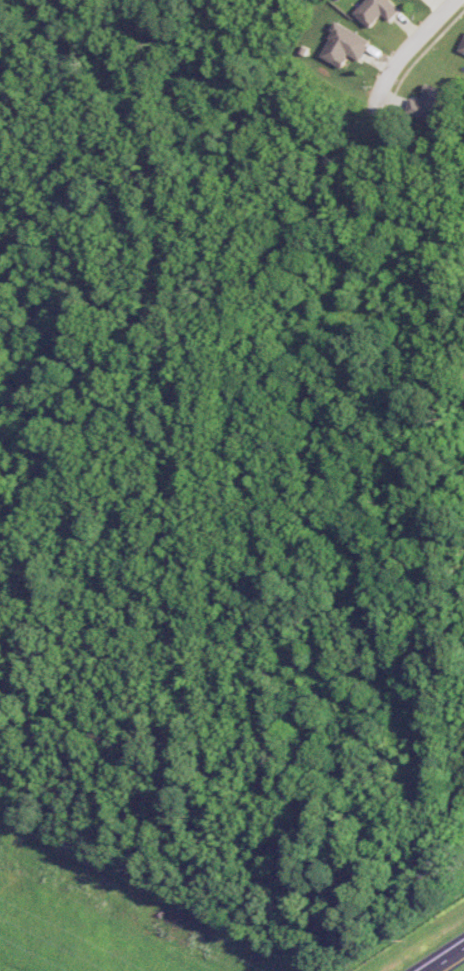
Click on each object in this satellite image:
building: (376, 10)
building: (344, 45)
building: (462, 48)
road: (406, 49)
building: (428, 104)
road: (444, 958)

